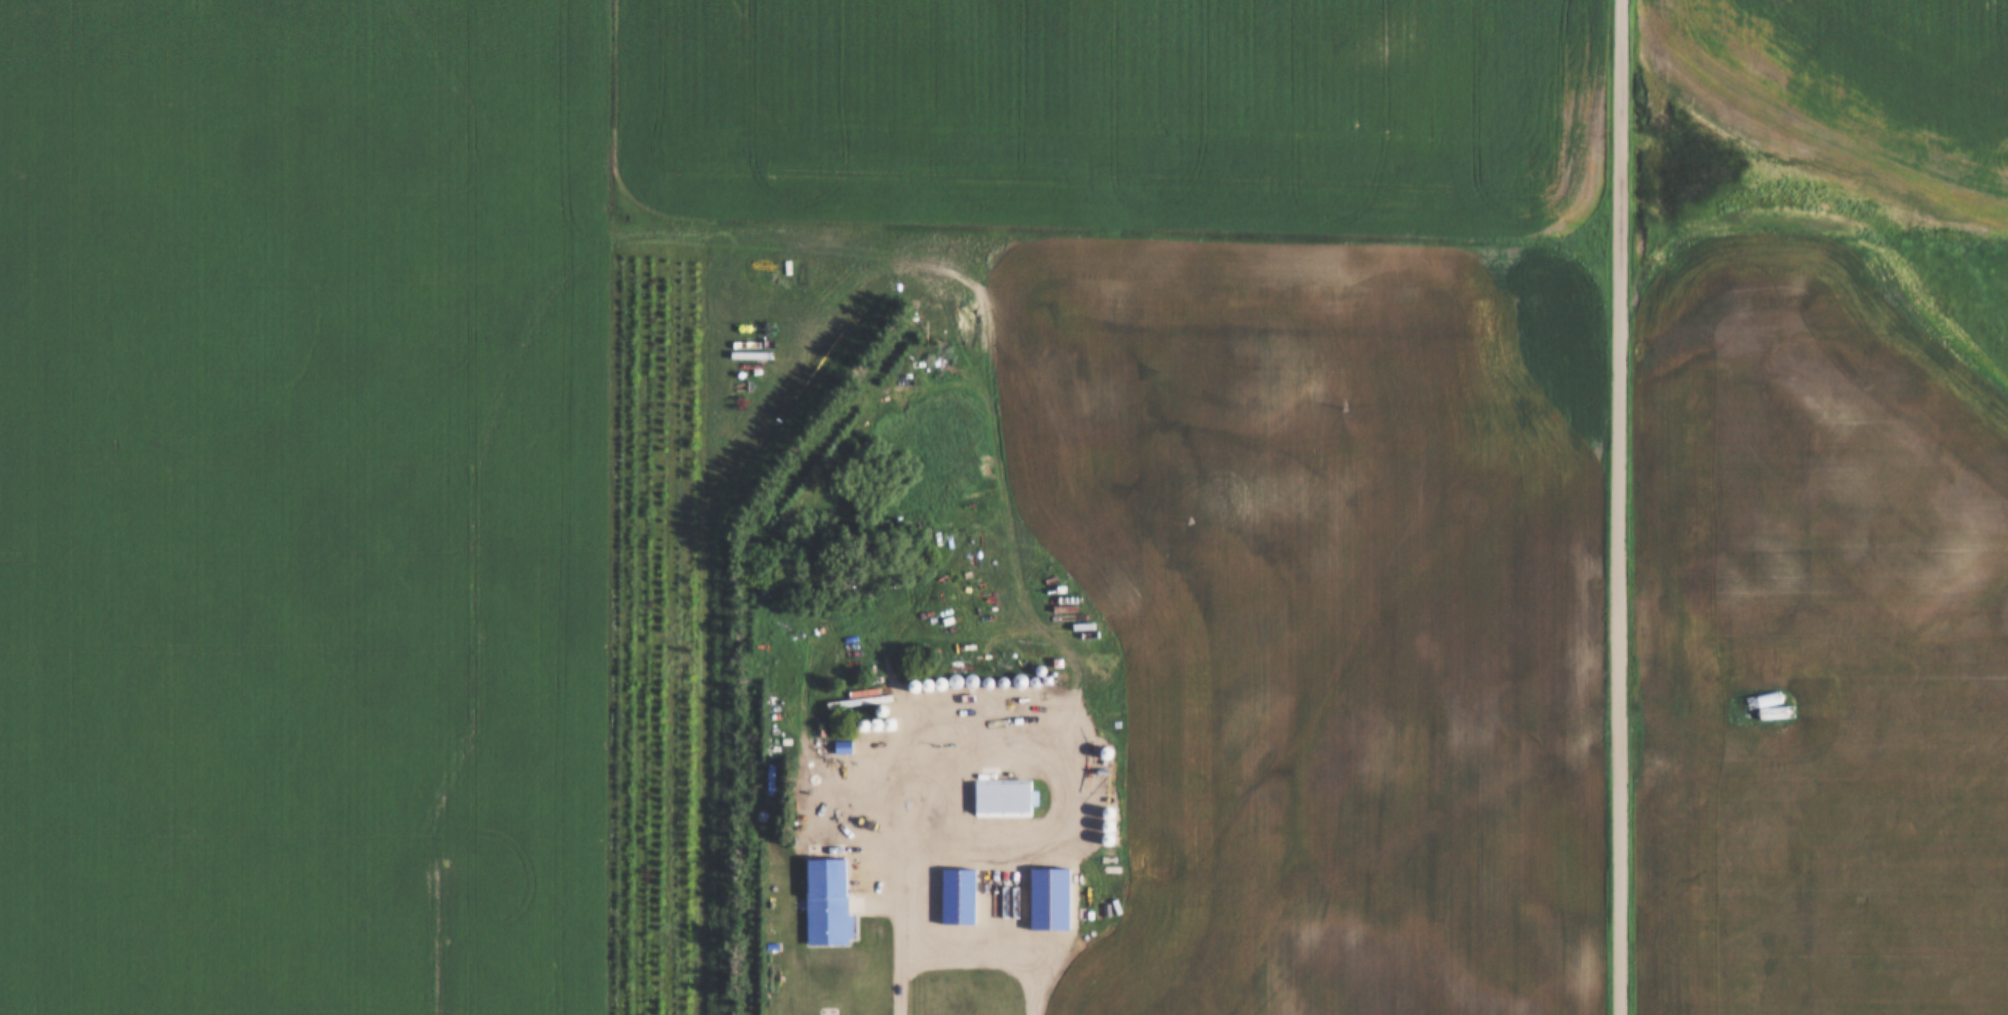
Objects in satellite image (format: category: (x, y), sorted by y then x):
road: (1623, 507)
building: (849, 746)
building: (773, 779)
building: (1011, 797)
road: (900, 890)
building: (1053, 898)
building: (833, 901)

